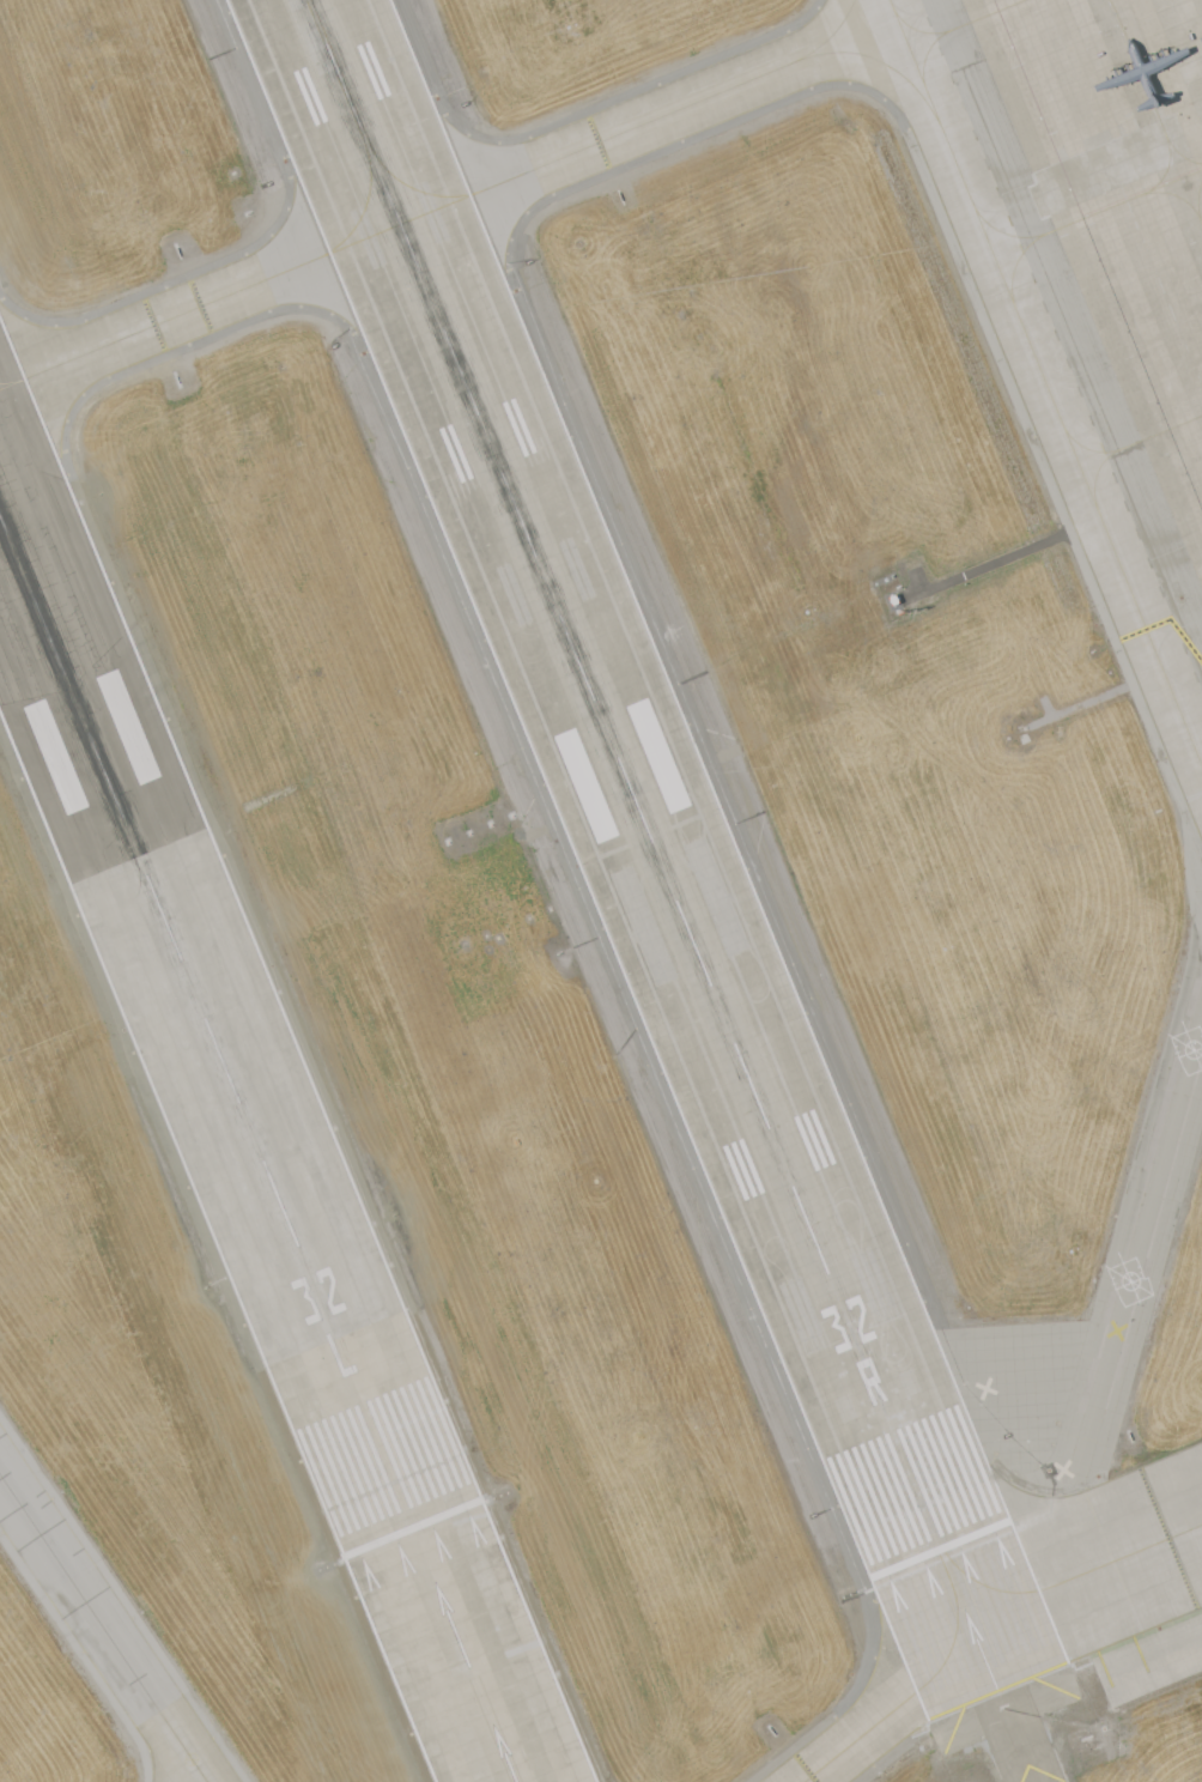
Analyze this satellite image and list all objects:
airport taxiway: (449, 206)
airport apron: (1107, 230)
airport taxiway: (1046, 381)
airport runway: (654, 844)
airport: (601, 891)
airport runway: (208, 1020)
airport taxiway: (1115, 1298)
airport taxiway: (1086, 1575)
airport taxiway: (104, 1628)
airport taxiway: (461, 1642)
airport taxiway: (898, 1709)

